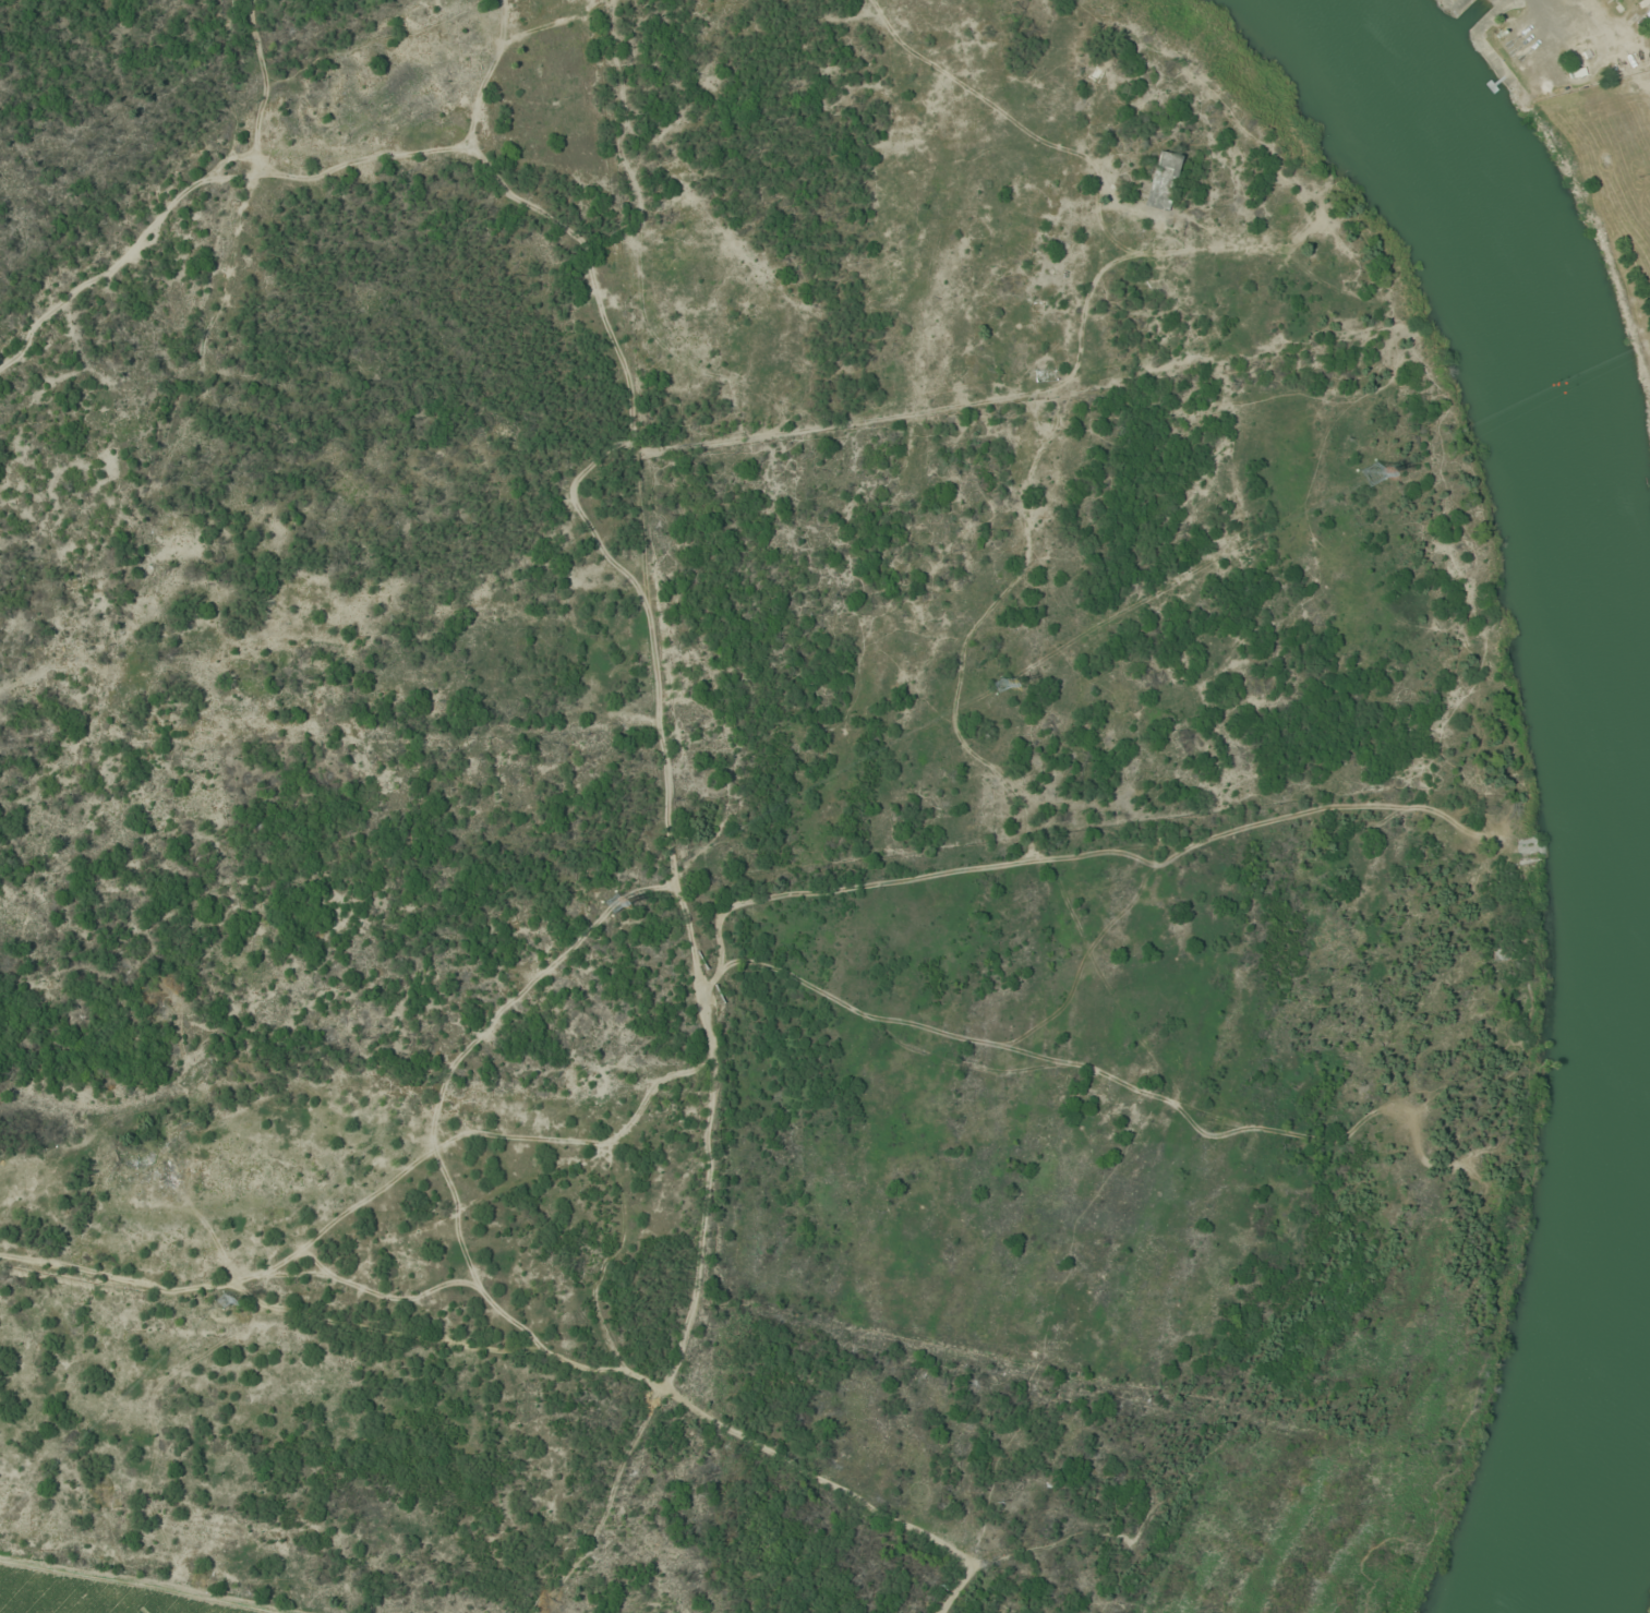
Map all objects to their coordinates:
building: (1618, 0)
building: (1640, 2)
building: (1648, 13)
pier: (1493, 84)
power tower: (1375, 474)
river: (1587, 479)
power tower: (1001, 689)
power tower: (616, 907)
power tower: (226, 1304)
river: (1619, 1399)
road: (947, 1590)

